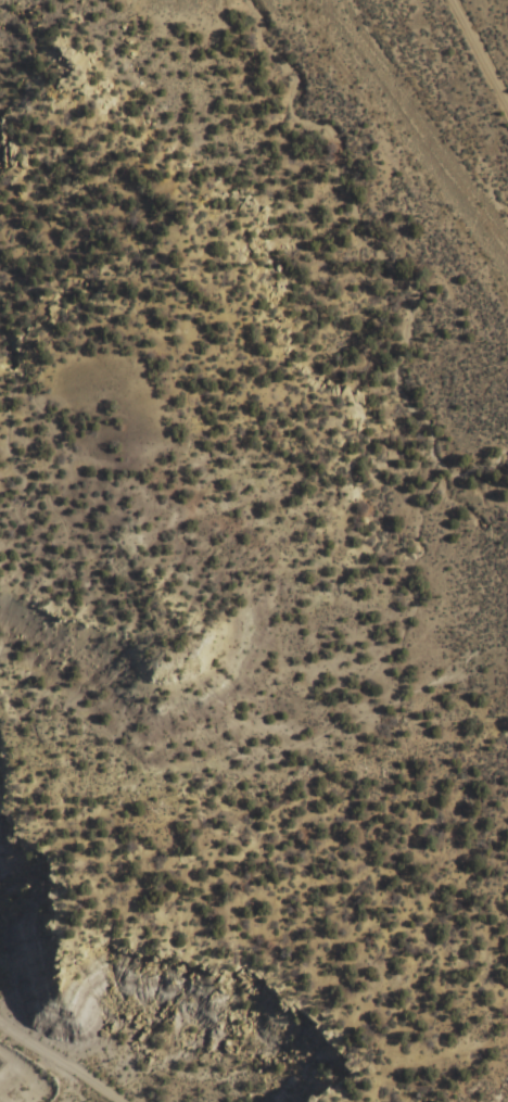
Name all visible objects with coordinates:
road: (456, 96)
road: (470, 1095)
road: (13, 1097)

